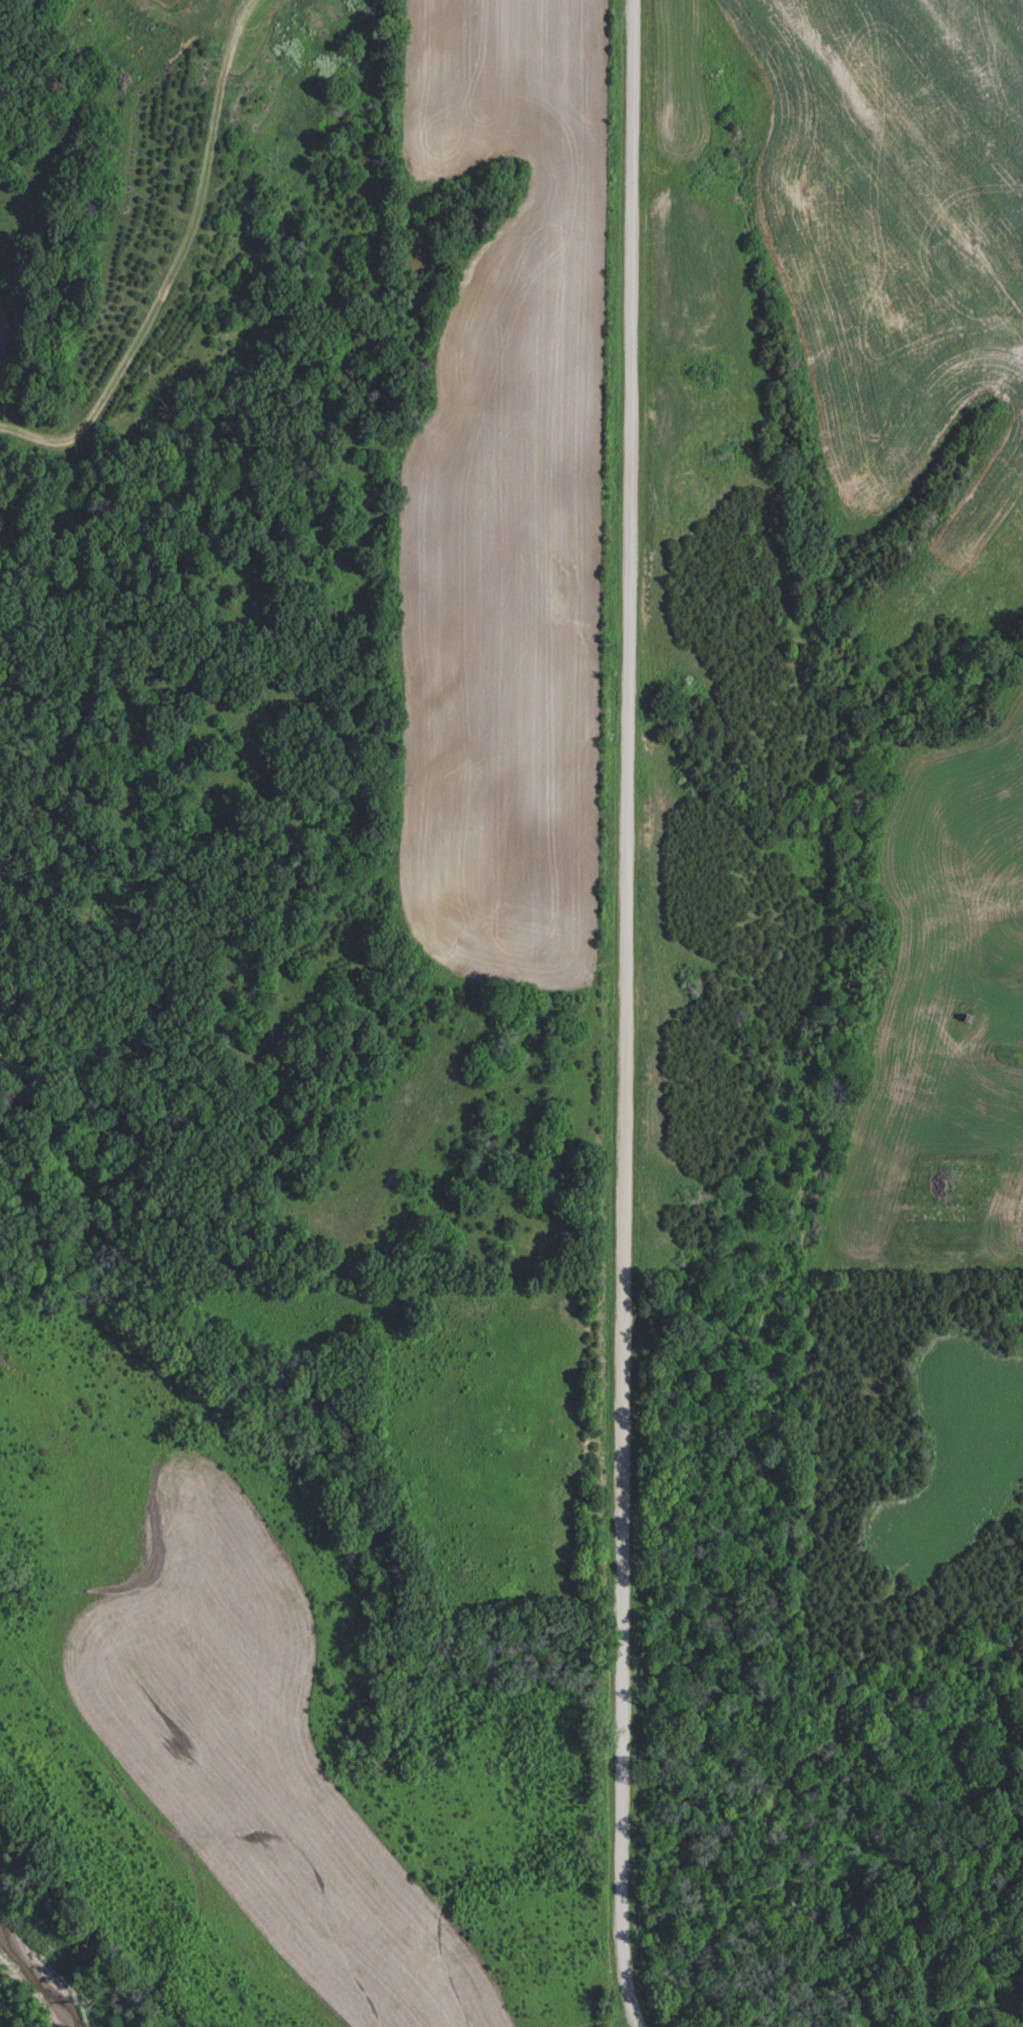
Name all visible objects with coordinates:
road: (639, 1014)

